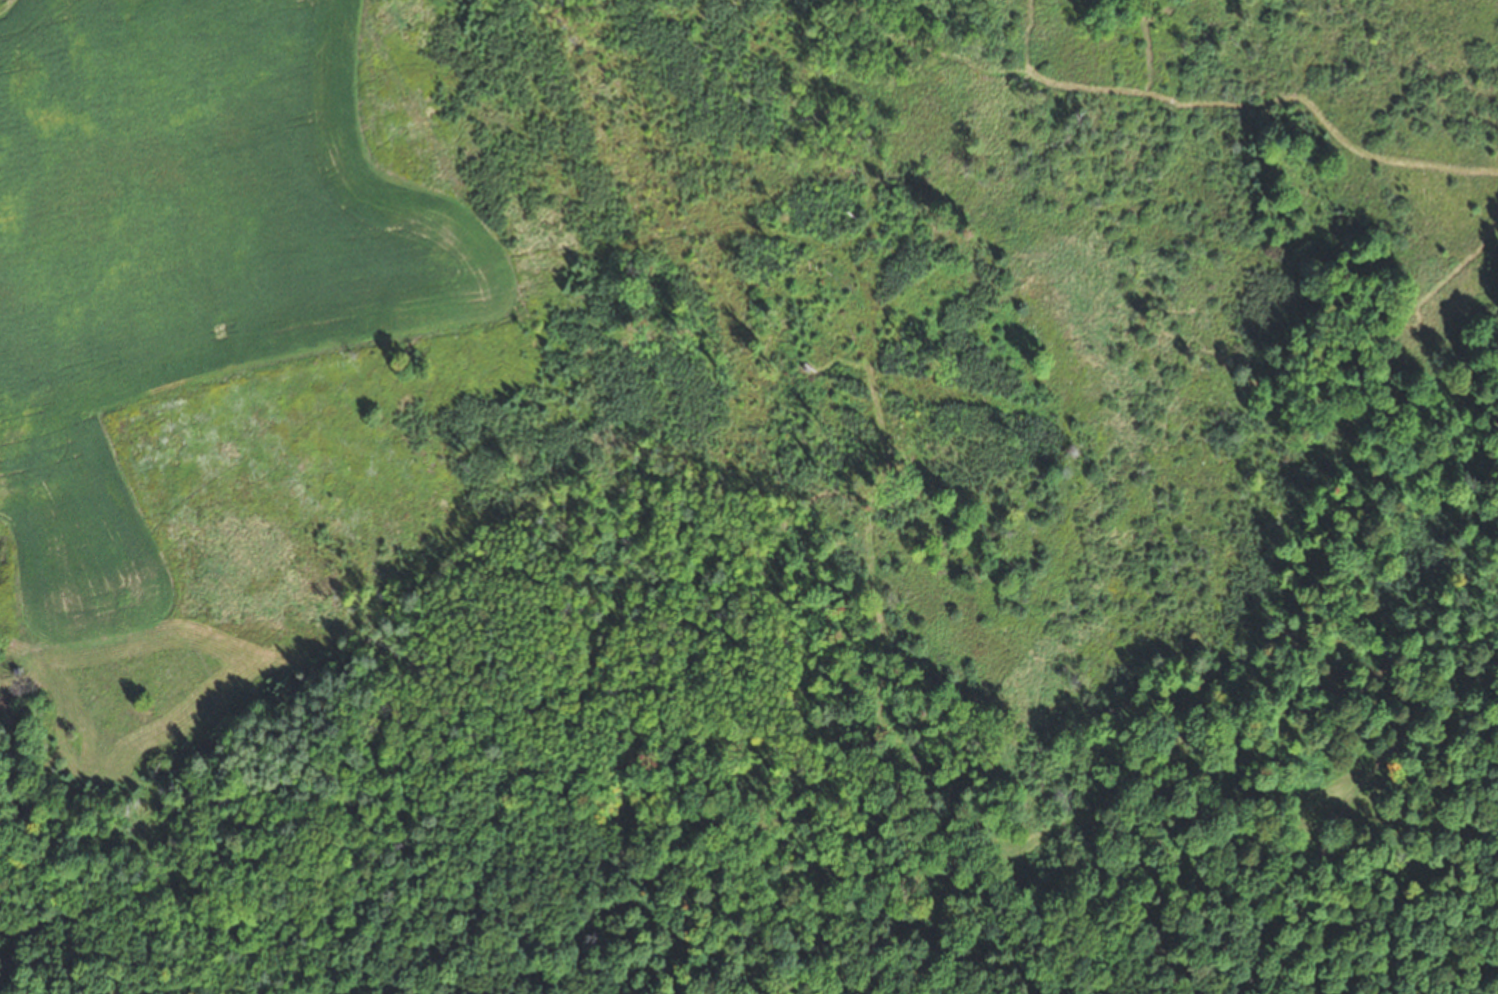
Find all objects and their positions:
crop: (188, 295)

